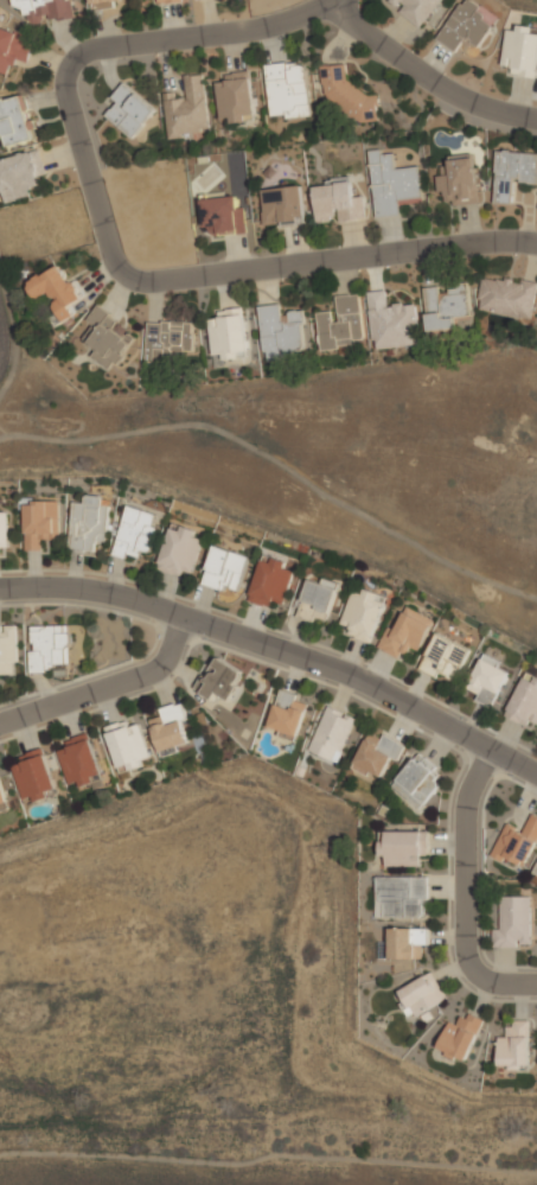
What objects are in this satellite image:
building: (167, 1)
building: (100, 4)
building: (44, 9)
building: (416, 9)
building: (466, 26)
building: (12, 49)
building: (519, 50)
road: (427, 81)
building: (287, 90)
building: (345, 95)
building: (236, 97)
building: (187, 109)
building: (129, 110)
building: (14, 121)
building: (512, 173)
building: (19, 174)
building: (460, 180)
building: (392, 183)
building: (339, 200)
building: (282, 206)
building: (223, 216)
road: (104, 236)
building: (56, 291)
building: (506, 297)
building: (446, 306)
building: (391, 321)
building: (341, 323)
building: (280, 332)
building: (229, 333)
building: (107, 337)
building: (170, 338)
building: (41, 523)
building: (88, 523)
building: (4, 529)
building: (135, 533)
building: (180, 550)
building: (226, 568)
building: (271, 582)
building: (315, 601)
building: (363, 613)
building: (405, 632)
street lamp: (206, 639)
building: (49, 646)
building: (8, 649)
road: (277, 649)
building: (443, 657)
building: (222, 680)
building: (487, 680)
road: (107, 687)
building: (524, 700)
building: (287, 714)
building: (170, 730)
building: (331, 734)
building: (126, 745)
building: (377, 753)
building: (78, 760)
building: (33, 775)
street lamp: (512, 777)
building: (416, 781)
building: (1, 796)
building: (517, 845)
building: (403, 847)
building: (536, 872)
road: (465, 891)
building: (401, 896)
building: (513, 922)
building: (405, 942)
building: (422, 994)
building: (460, 1036)
building: (513, 1045)

